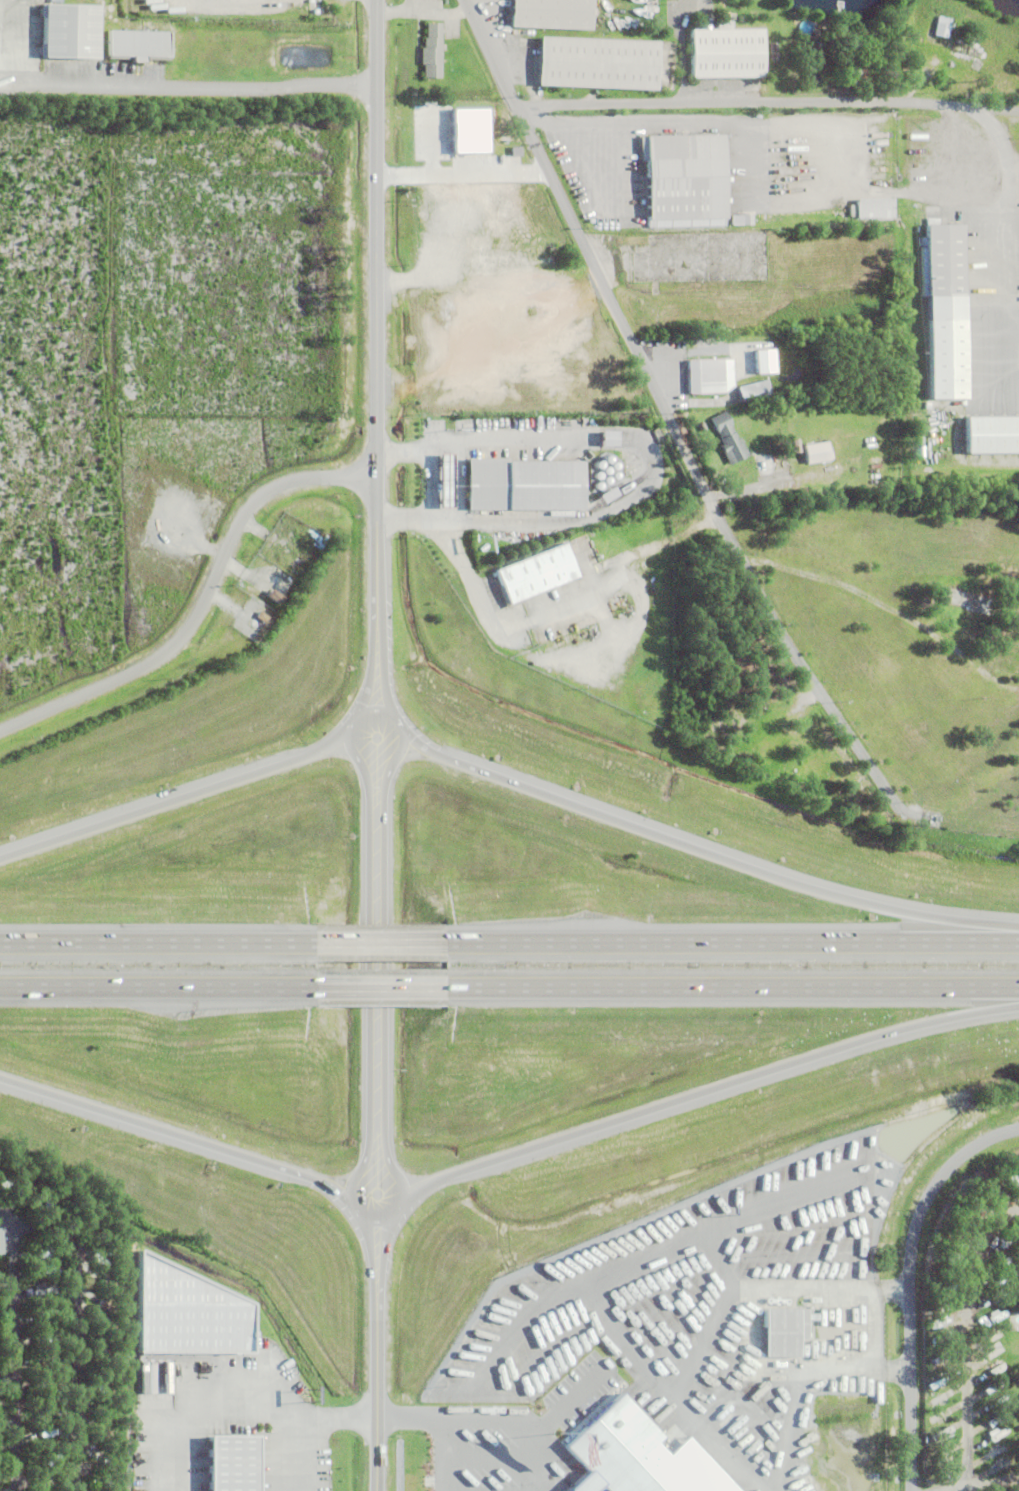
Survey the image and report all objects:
building: (728, 12)
building: (551, 14)
building: (943, 27)
building: (885, 34)
building: (839, 42)
building: (133, 44)
building: (968, 50)
building: (432, 51)
building: (726, 52)
building: (598, 64)
building: (854, 73)
road: (188, 87)
road: (716, 101)
road: (677, 126)
building: (964, 152)
building: (685, 181)
building: (875, 209)
building: (915, 215)
road: (1009, 216)
building: (747, 220)
building: (703, 259)
building: (944, 261)
road: (378, 316)
building: (706, 341)
building: (704, 351)
building: (759, 361)
building: (706, 377)
building: (748, 391)
building: (702, 408)
road: (669, 415)
building: (988, 435)
building: (601, 438)
building: (729, 440)
road: (480, 441)
building: (817, 454)
building: (860, 465)
building: (763, 467)
building: (438, 480)
building: (524, 487)
building: (777, 495)
road: (584, 516)
building: (507, 533)
building: (537, 575)
building: (275, 598)
road: (202, 603)
road: (557, 603)
building: (972, 603)
building: (262, 618)
road: (387, 676)
road: (372, 678)
road: (182, 797)
road: (702, 850)
road: (151, 937)
road: (368, 937)
road: (726, 938)
road: (151, 990)
road: (369, 990)
road: (726, 990)
road: (703, 1091)
road: (184, 1135)
road: (364, 1166)
building: (1, 1239)
road: (385, 1241)
road: (372, 1242)
road: (7, 1283)
road: (911, 1283)
building: (178, 1312)
building: (807, 1325)
road: (965, 1341)
road: (79, 1346)
road: (15, 1354)
road: (8, 1370)
road: (379, 1384)
road: (565, 1408)
road: (310, 1423)
road: (483, 1424)
building: (630, 1456)
road: (472, 1463)
road: (444, 1477)
road: (989, 1482)

